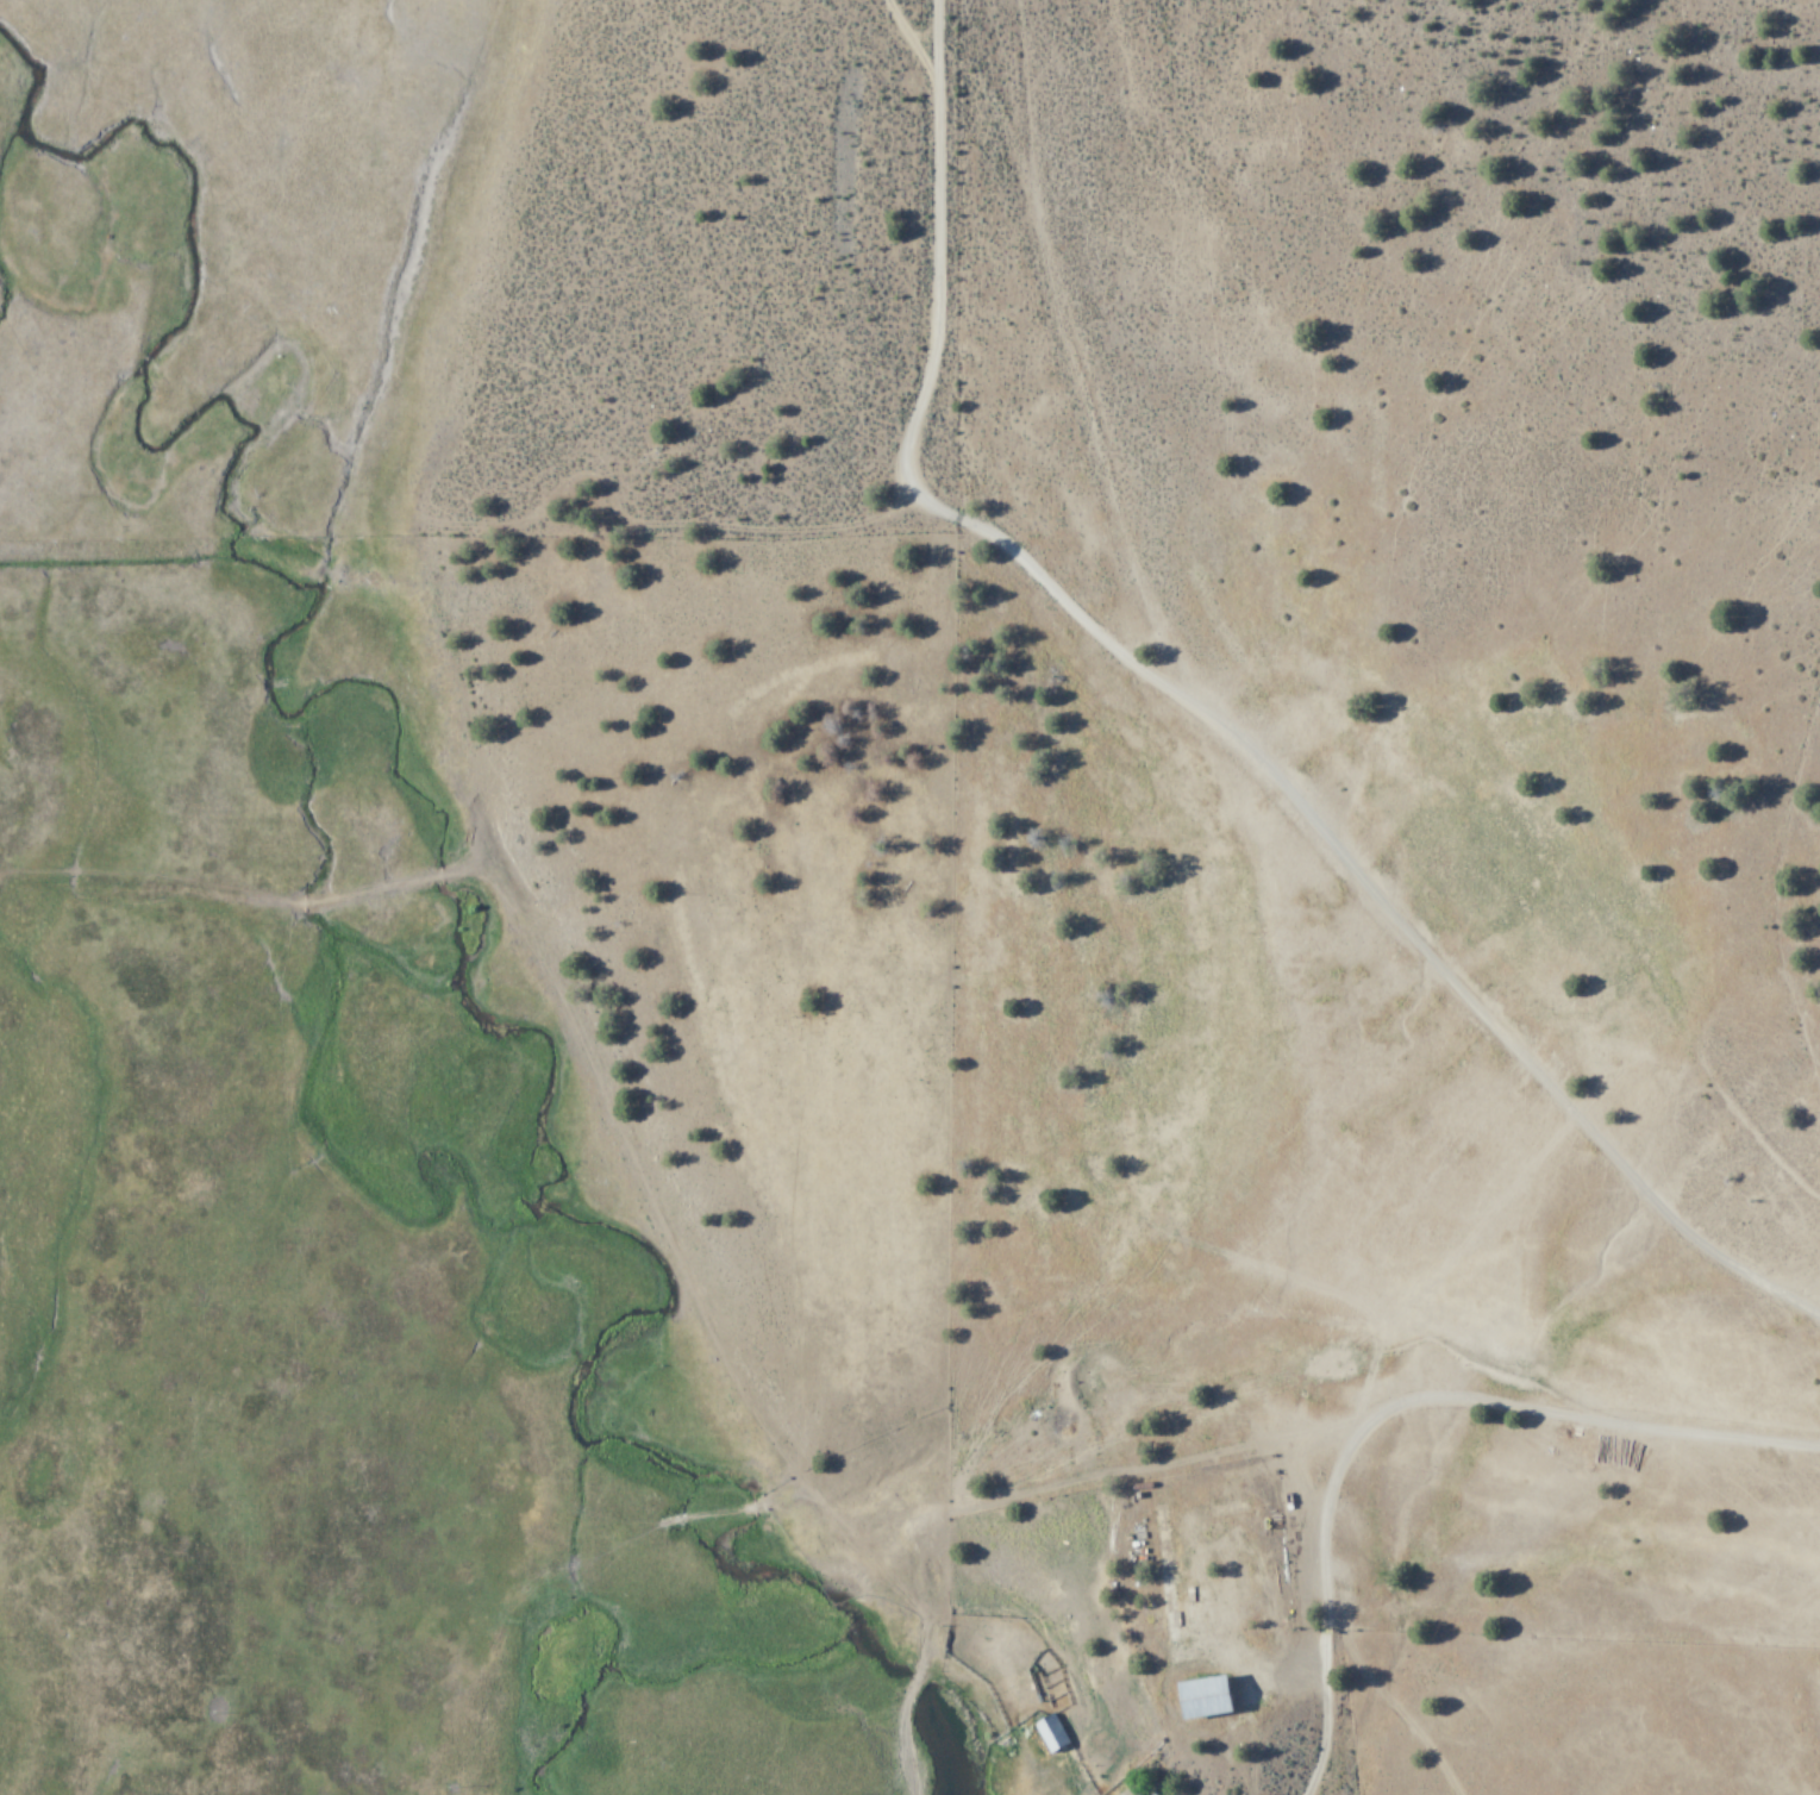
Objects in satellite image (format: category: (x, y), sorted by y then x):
road: (1202, 715)
road: (1403, 1409)
building: (1168, 1570)
building: (1244, 1599)
building: (1211, 1696)
building: (1053, 1732)

